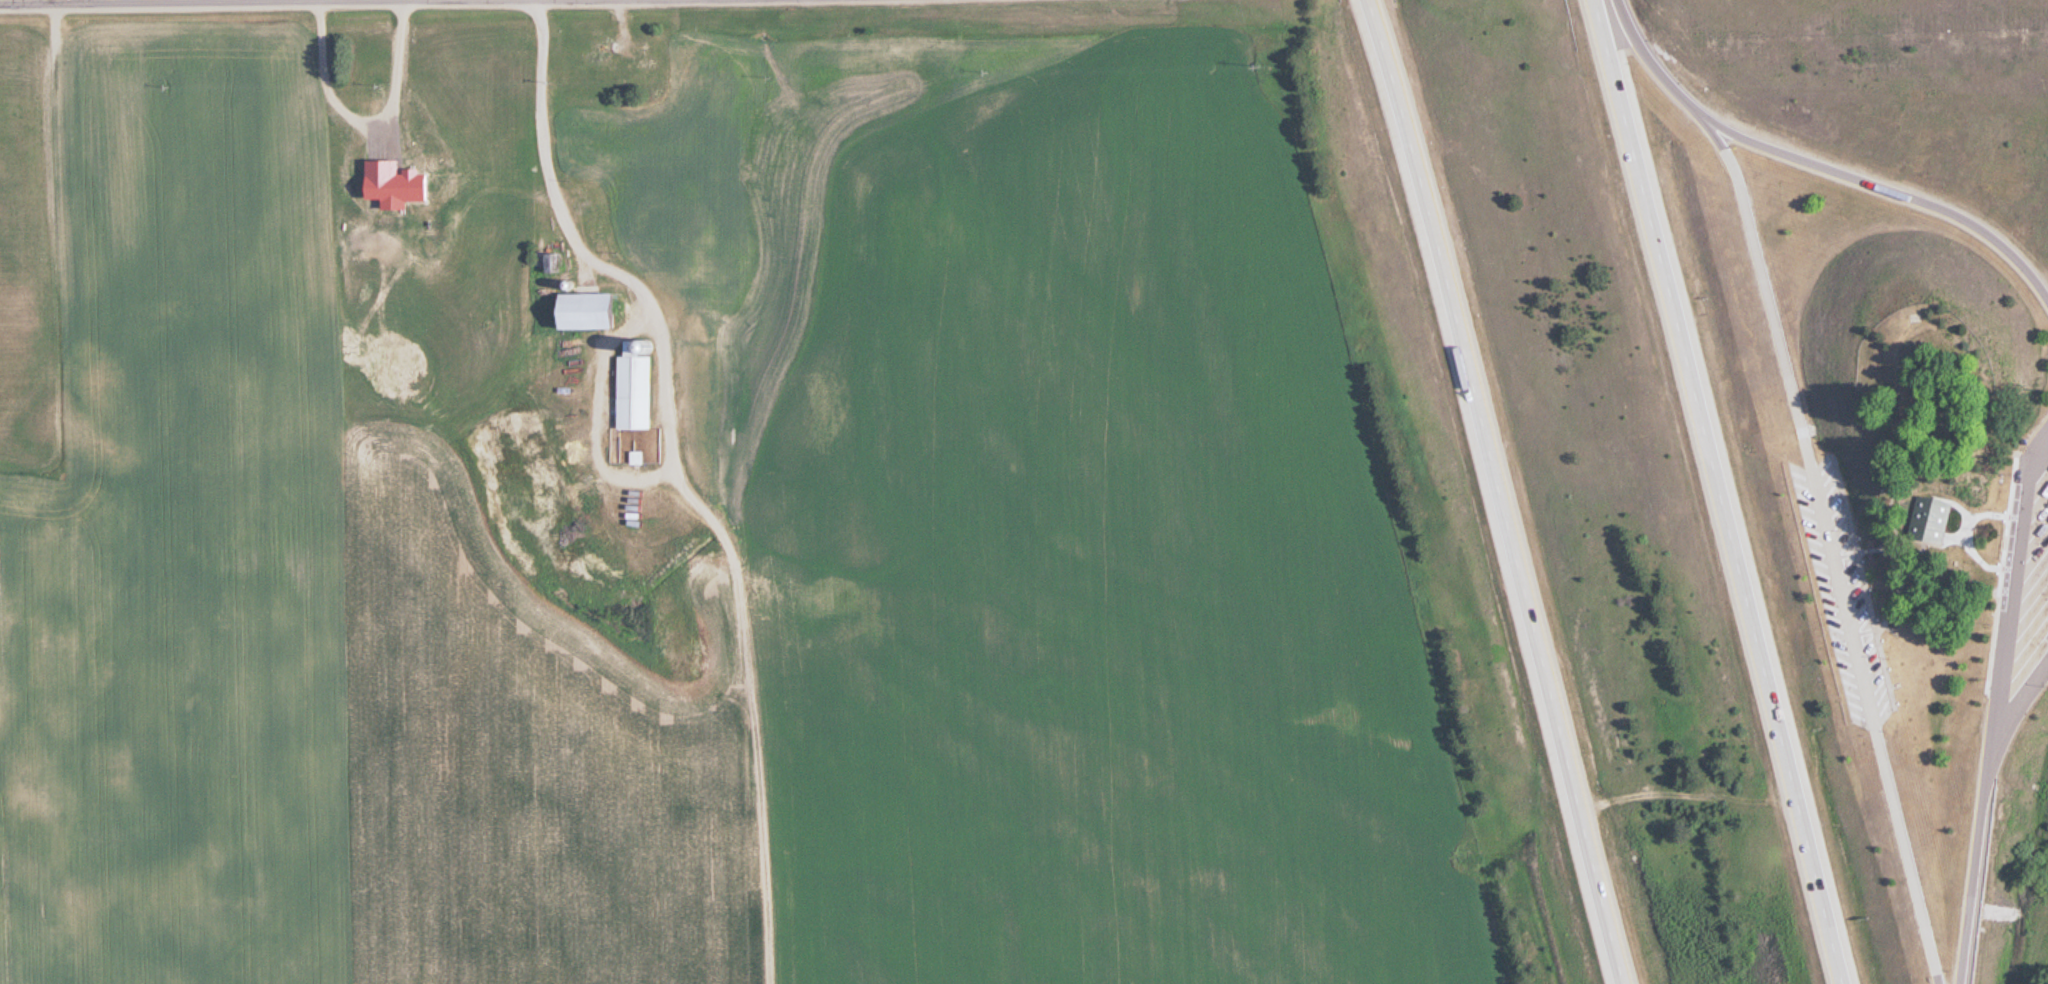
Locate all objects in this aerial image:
road: (34, 0)
road: (1660, 66)
road: (1891, 193)
building: (561, 262)
building: (601, 312)
building: (643, 389)
road: (1894, 395)
road: (1499, 491)
road: (1721, 493)
road: (1958, 503)
road: (1897, 510)
building: (1929, 517)
road: (1967, 534)
road: (1906, 539)
road: (1954, 539)
road: (1834, 547)
road: (2003, 570)
road: (1868, 582)
parking lot: (1845, 593)
parking lot: (2022, 612)
road: (2019, 696)
road: (1994, 709)

